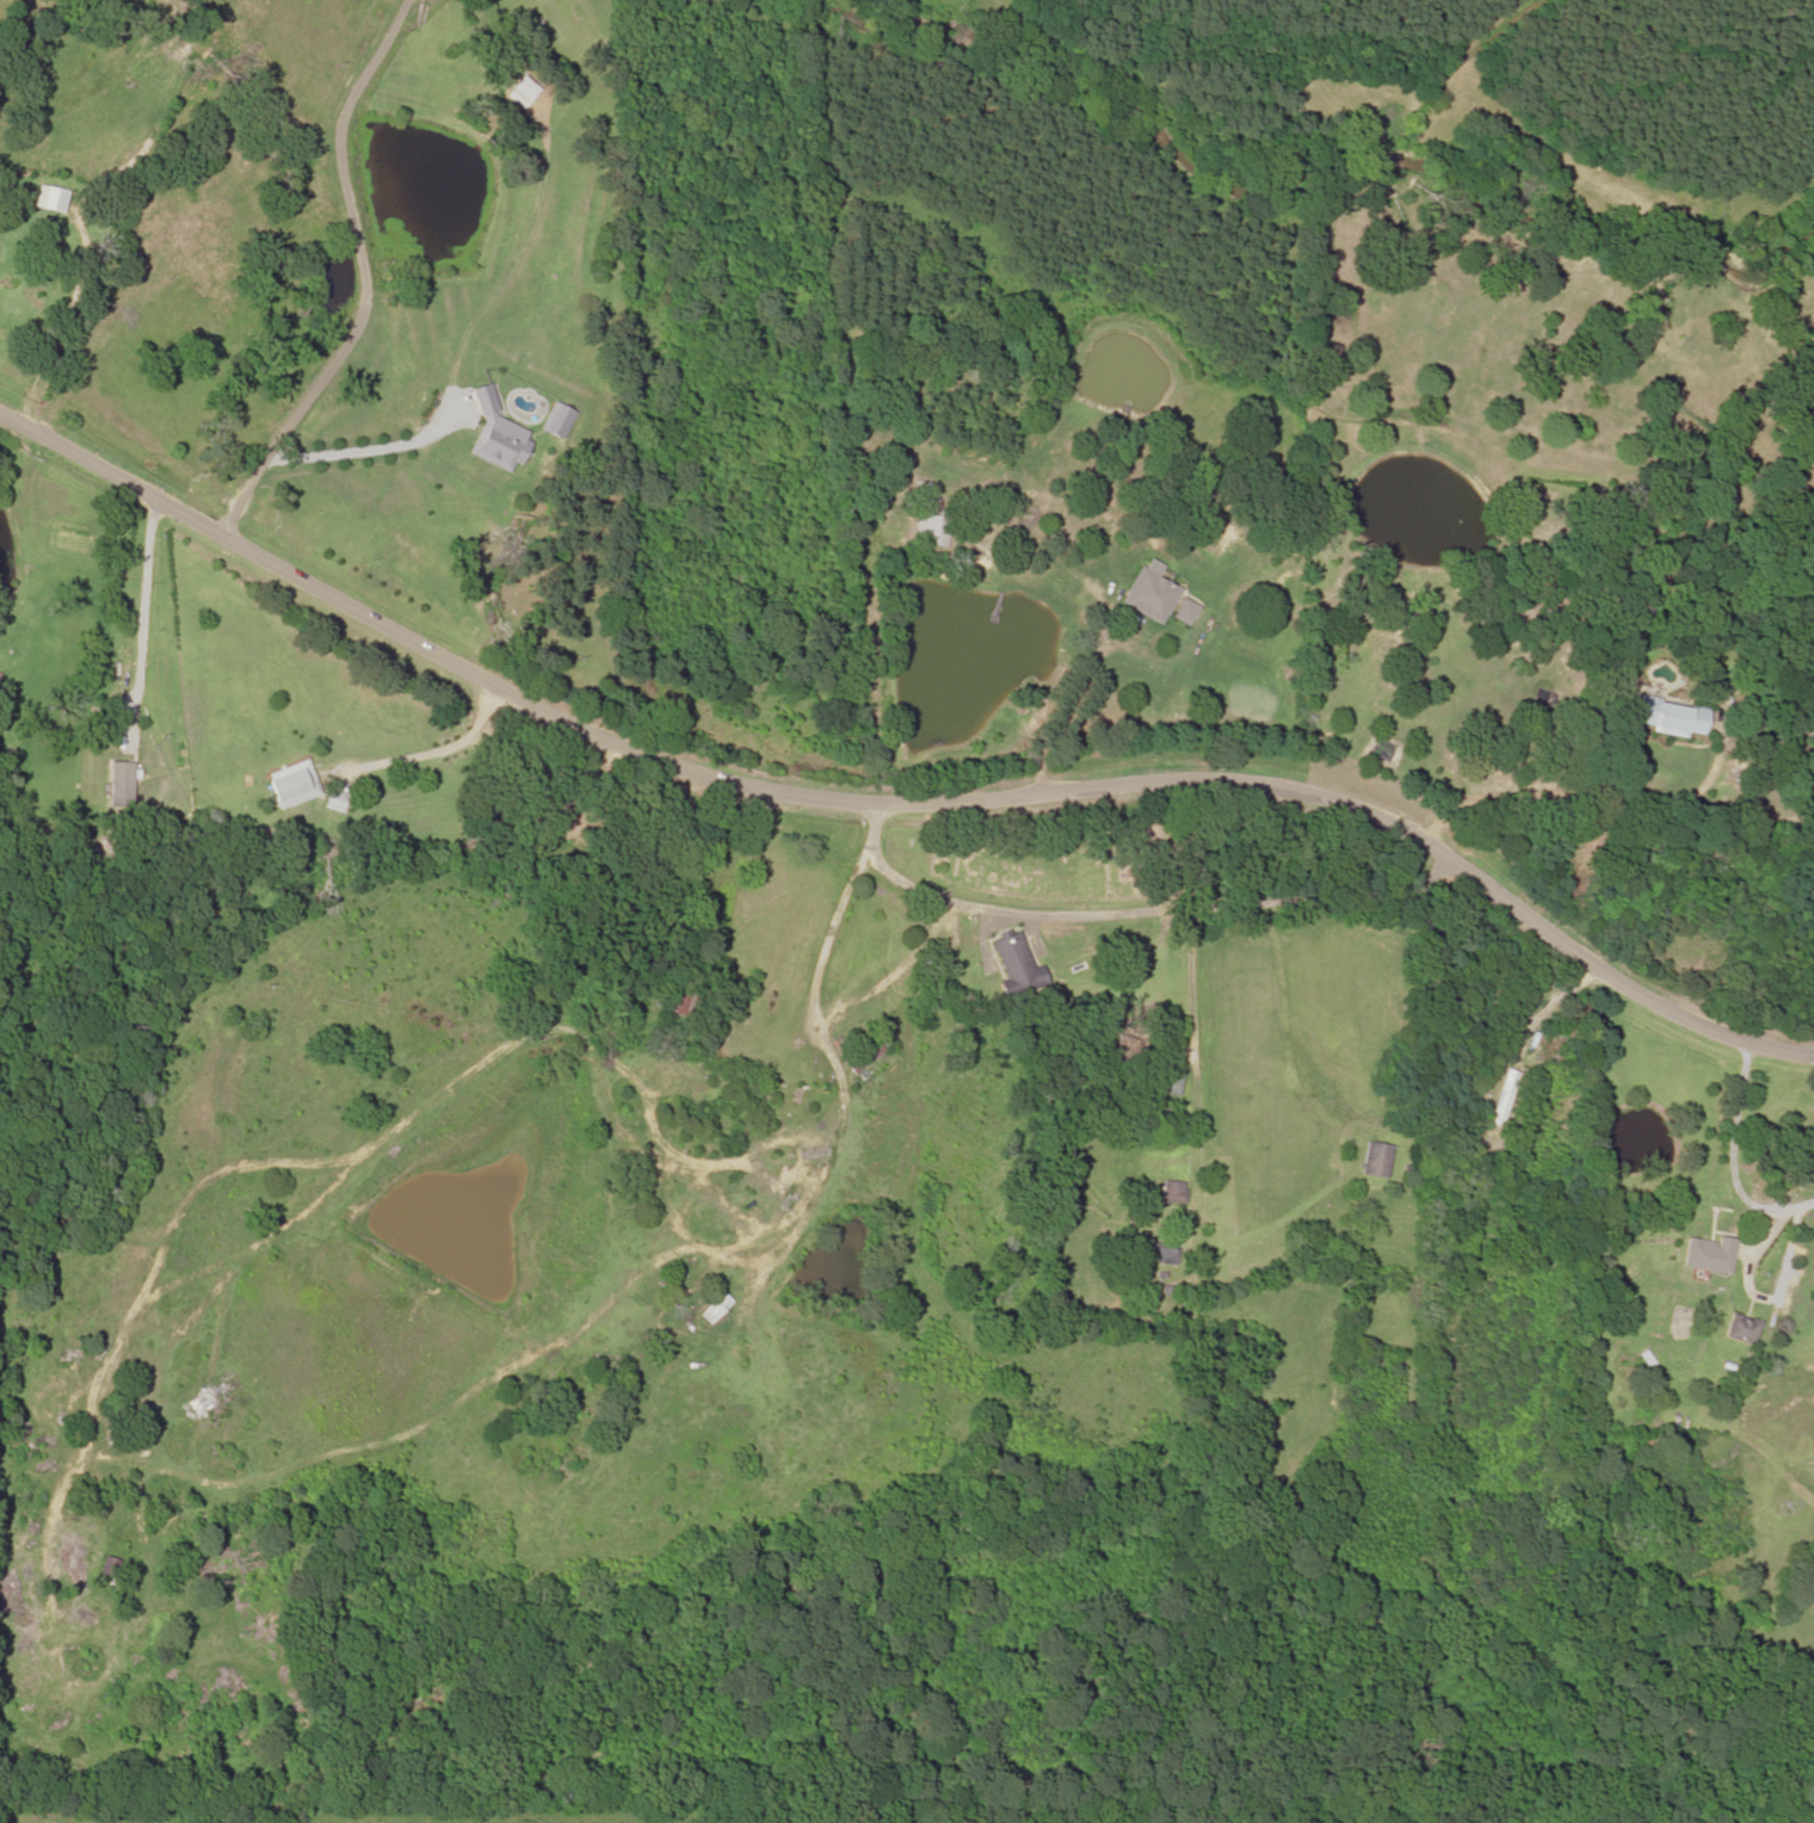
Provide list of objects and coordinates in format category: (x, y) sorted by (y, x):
building: (53, 200)
road: (359, 278)
road: (366, 452)
building: (928, 521)
building: (1149, 595)
building: (1185, 612)
building: (1671, 717)
building: (525, 781)
building: (292, 785)
building: (335, 801)
road: (894, 804)
road: (1128, 917)
building: (1014, 964)
building: (685, 1003)
building: (866, 1058)
building: (1166, 1081)
road: (1202, 1107)
building: (1501, 1110)
road: (1235, 1158)
building: (1375, 1160)
building: (1172, 1192)
building: (1158, 1253)
building: (1709, 1255)
building: (712, 1310)
road: (1328, 1311)
building: (1741, 1329)

